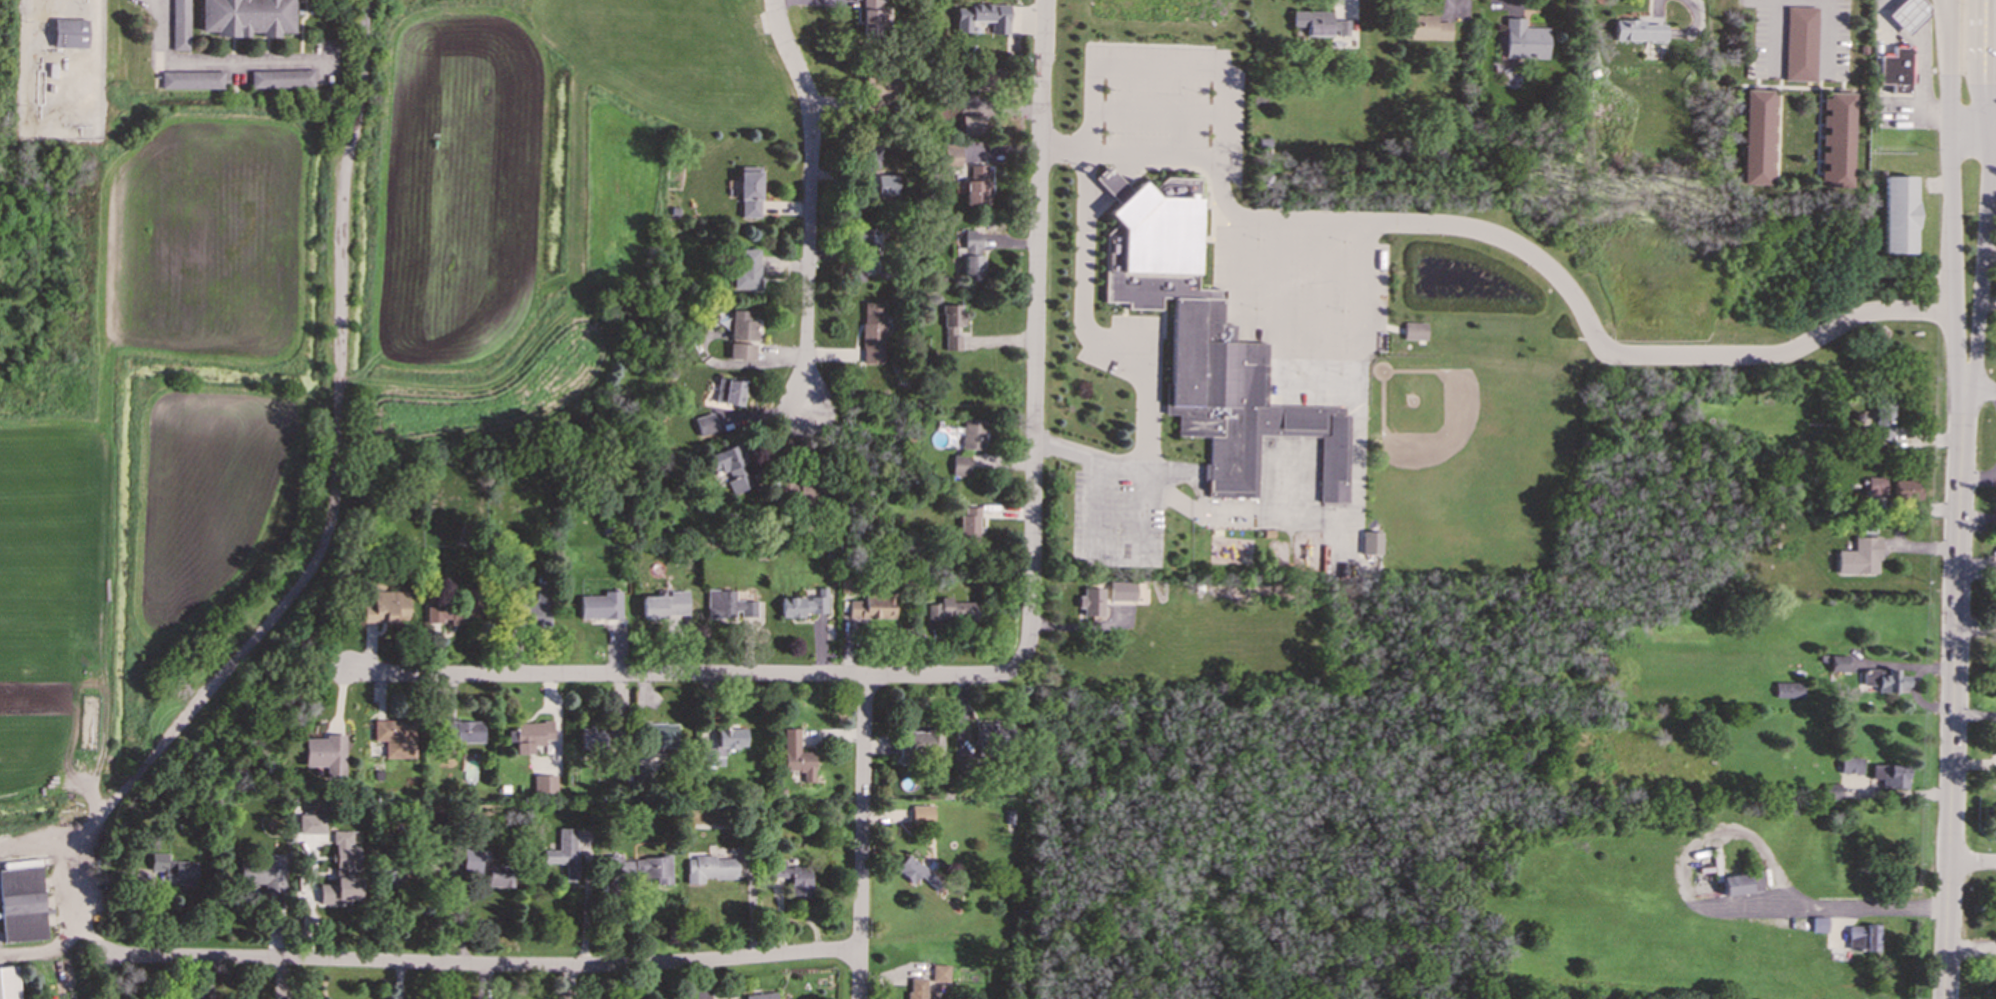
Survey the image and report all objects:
road: (1822, 3)
road: (1993, 7)
road: (1994, 10)
building: (1907, 13)
building: (247, 17)
building: (982, 17)
building: (870, 18)
building: (1320, 23)
road: (1946, 23)
building: (180, 25)
building: (1427, 27)
building: (1637, 30)
building: (70, 33)
road: (1773, 33)
road: (1975, 38)
building: (1523, 40)
building: (1800, 43)
road: (1993, 44)
road: (1922, 60)
road: (1950, 60)
road: (210, 63)
building: (1896, 69)
road: (1991, 71)
building: (282, 78)
building: (192, 79)
road: (1987, 90)
road: (1987, 122)
building: (967, 125)
road: (1967, 129)
road: (1948, 133)
building: (1758, 137)
road: (1991, 137)
building: (1836, 140)
road: (1063, 144)
road: (1987, 151)
building: (869, 155)
building: (951, 155)
building: (977, 185)
building: (749, 194)
road: (1218, 194)
road: (812, 199)
building: (1898, 214)
building: (866, 236)
building: (973, 255)
building: (747, 268)
road: (1953, 268)
road: (1980, 279)
building: (741, 326)
building: (952, 326)
building: (1414, 331)
building: (872, 332)
road: (1036, 335)
crop: (335, 342)
building: (1207, 344)
building: (742, 351)
building: (730, 391)
road: (1979, 392)
building: (1882, 417)
building: (705, 424)
building: (973, 434)
building: (960, 464)
building: (730, 468)
building: (1876, 486)
building: (1905, 490)
building: (968, 527)
road: (326, 528)
building: (1370, 542)
building: (1860, 556)
building: (1122, 590)
building: (665, 604)
building: (803, 604)
building: (1089, 604)
building: (600, 605)
building: (728, 605)
building: (535, 606)
building: (871, 606)
building: (384, 607)
building: (451, 611)
building: (951, 611)
building: (1838, 663)
road: (682, 674)
building: (1885, 680)
building: (1788, 689)
road: (1954, 695)
building: (464, 731)
building: (659, 734)
building: (531, 735)
building: (996, 735)
building: (395, 737)
building: (596, 737)
building: (918, 744)
building: (723, 745)
building: (326, 753)
building: (796, 755)
building: (1850, 765)
building: (1889, 775)
building: (544, 784)
building: (1831, 791)
building: (923, 814)
building: (311, 823)
road: (1750, 836)
road: (862, 837)
building: (565, 853)
building: (472, 860)
road: (1973, 863)
building: (709, 868)
building: (173, 869)
building: (638, 869)
building: (916, 871)
building: (266, 872)
building: (343, 872)
building: (500, 875)
building: (795, 877)
building: (1733, 884)
building: (22, 901)
road: (587, 911)
building: (1818, 924)
building: (1861, 937)
road: (43, 950)
road: (482, 965)
building: (940, 973)
building: (9, 982)
building: (917, 988)
building: (762, 996)

